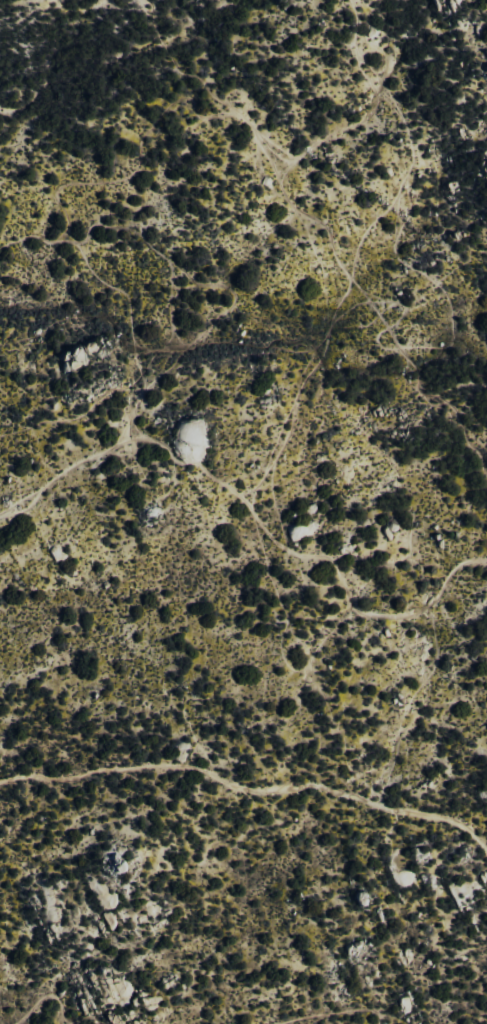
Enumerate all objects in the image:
road: (356, 245)
road: (353, 316)
road: (250, 785)

